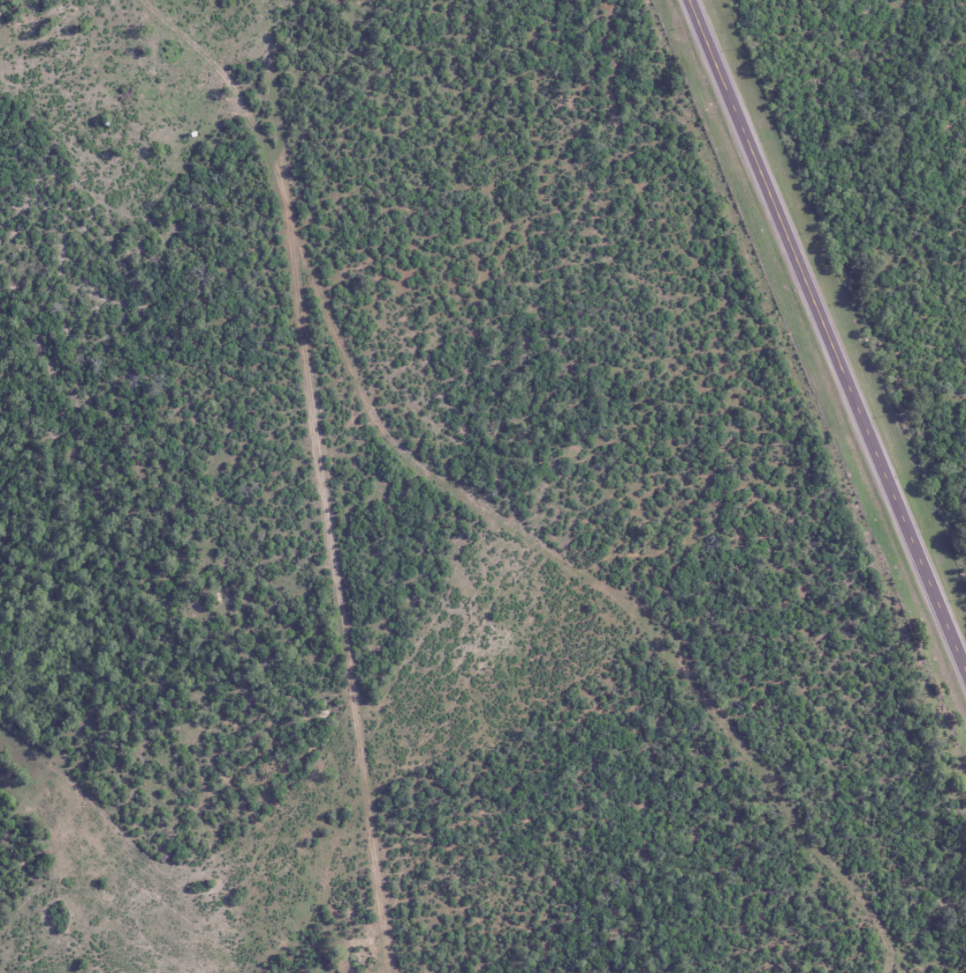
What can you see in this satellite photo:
power tower: (687, 86)
road: (828, 332)
power tower: (792, 344)
power tower: (902, 611)

